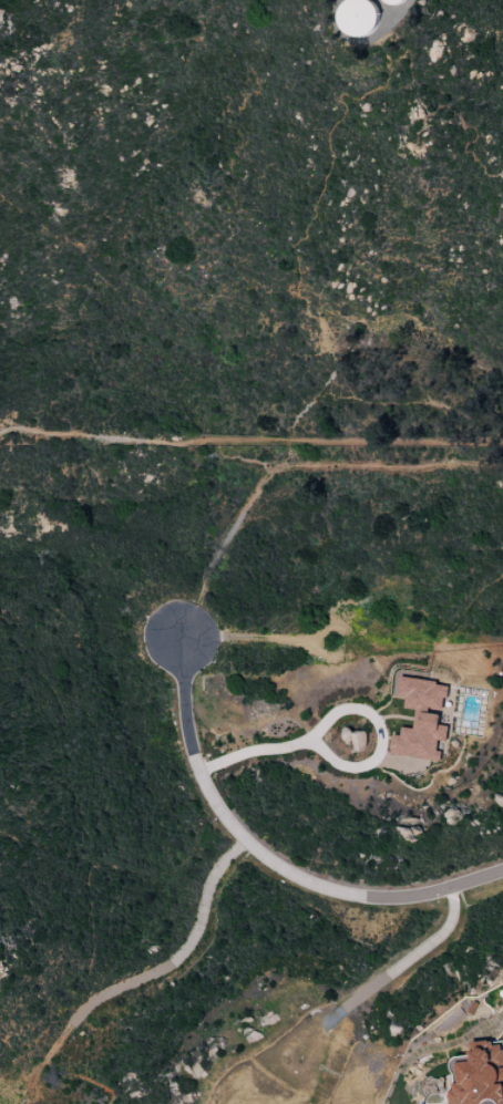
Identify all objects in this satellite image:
building: (393, 1)
building: (358, 17)
road: (250, 442)
road: (338, 712)
building: (420, 720)
building: (357, 741)
road: (266, 859)
road: (381, 979)
building: (453, 1061)
building: (480, 1075)

